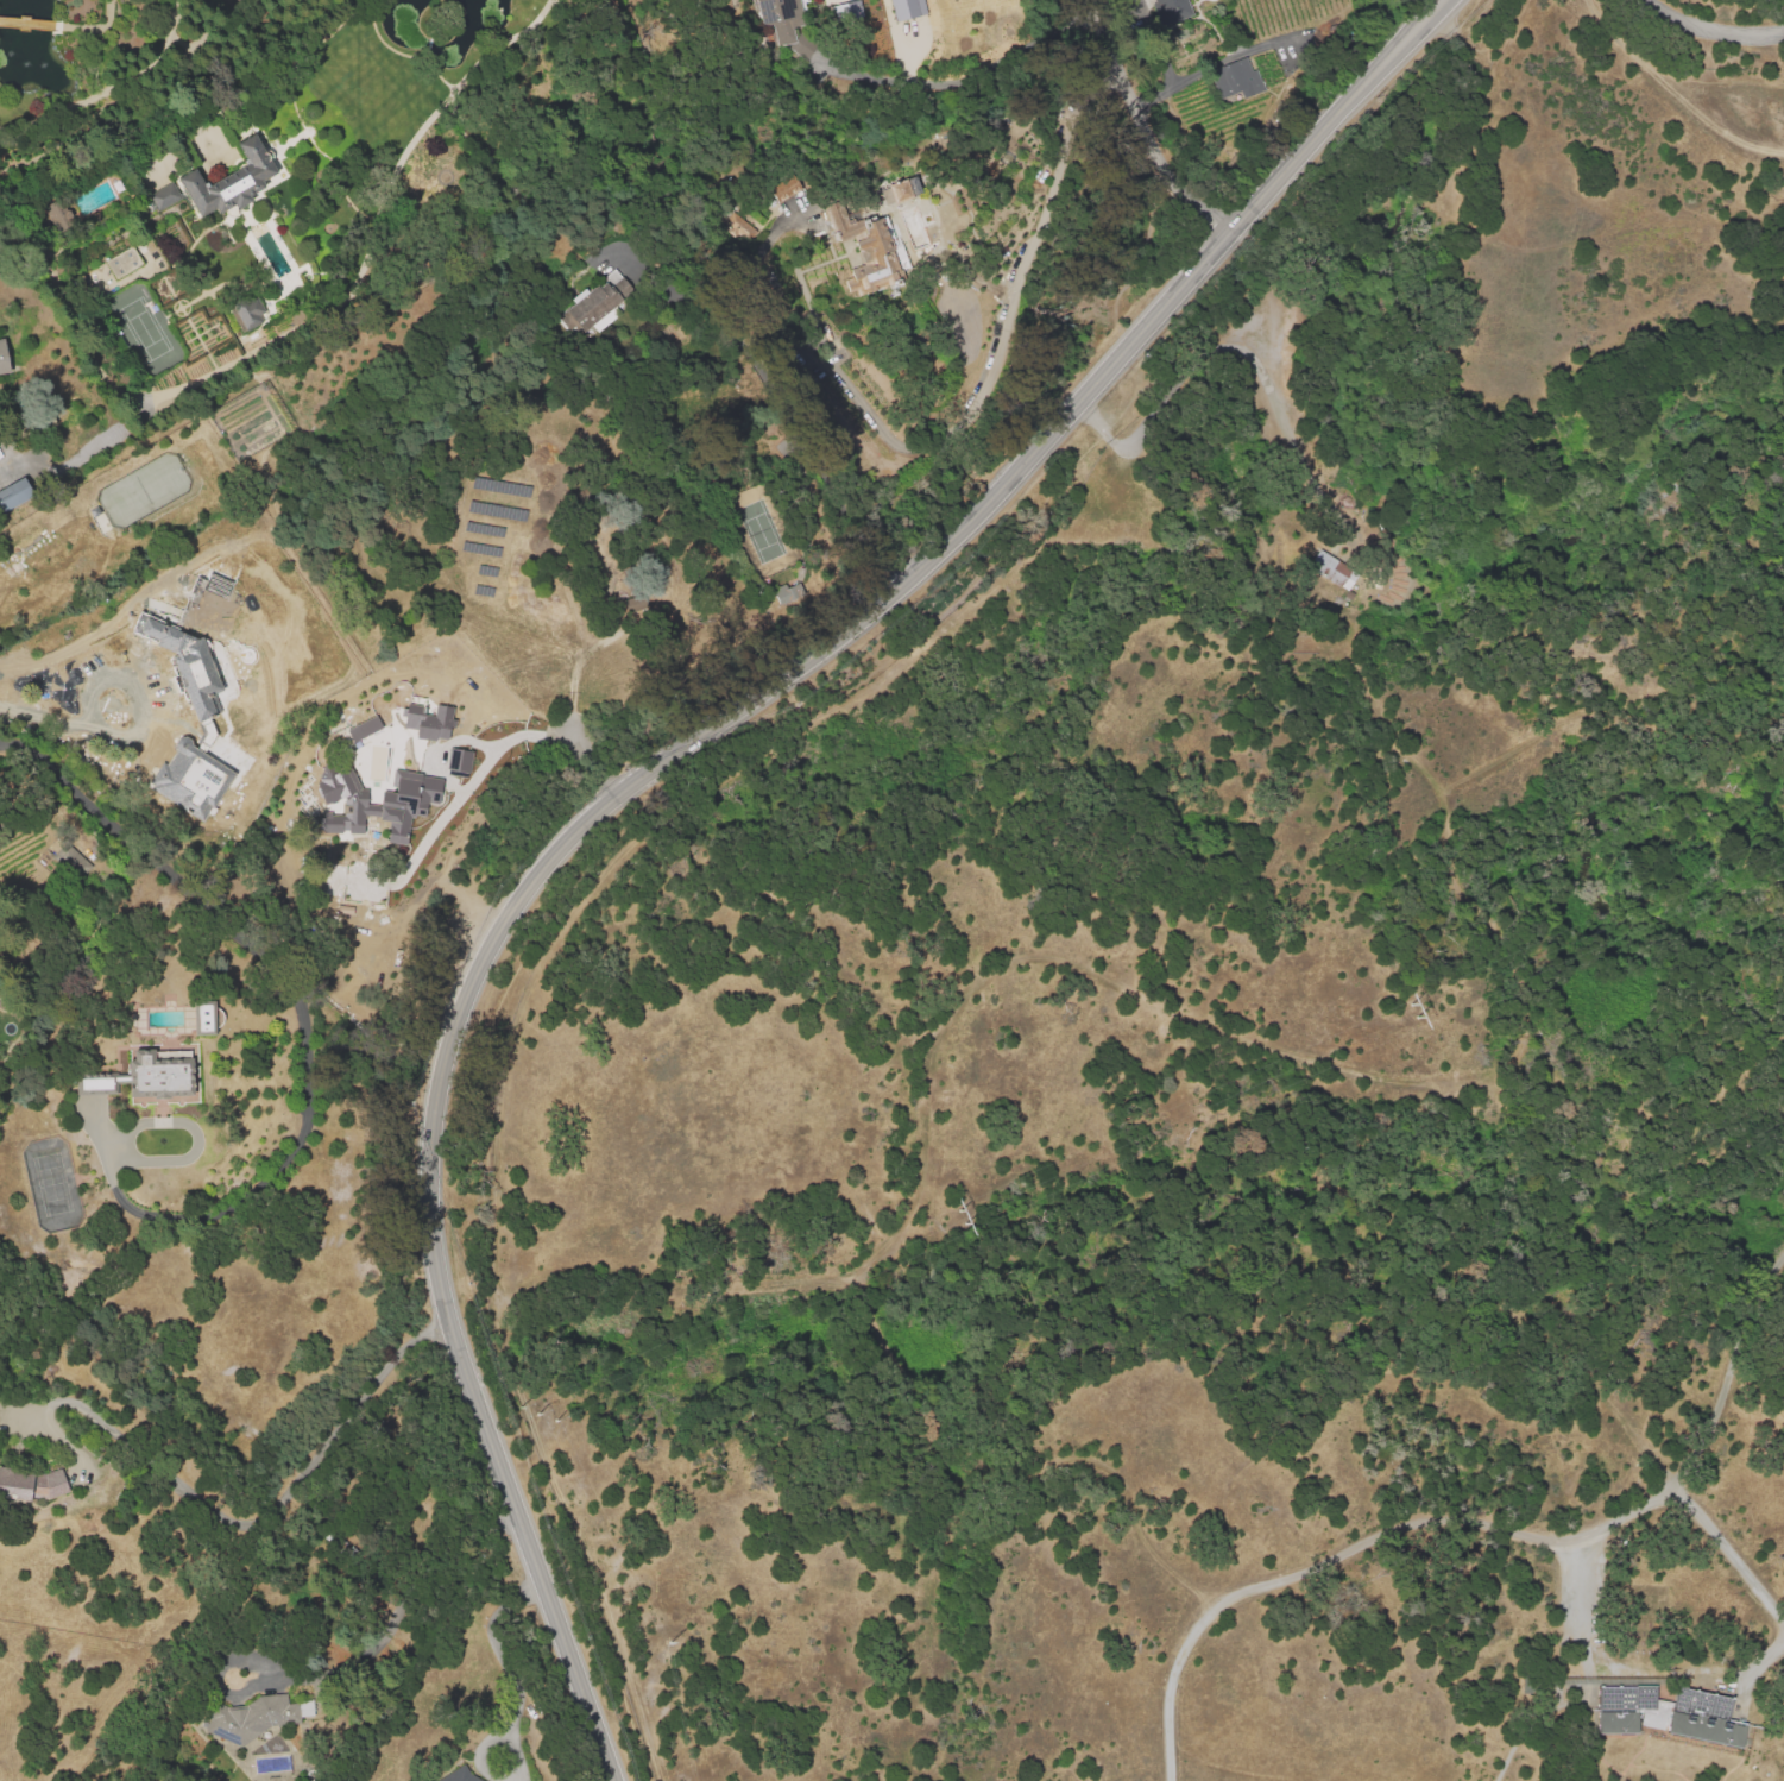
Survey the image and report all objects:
building: (907, 8)
building: (1172, 10)
building: (847, 11)
building: (780, 21)
road: (1711, 30)
road: (967, 64)
building: (1236, 81)
road: (1675, 95)
road: (1480, 101)
road: (106, 109)
road: (1143, 124)
building: (231, 180)
building: (782, 188)
building: (896, 193)
building: (164, 197)
building: (58, 214)
building: (737, 227)
road: (1568, 243)
building: (871, 246)
building: (124, 264)
road: (752, 291)
road: (830, 297)
building: (591, 309)
building: (247, 311)
road: (1001, 334)
road: (1241, 348)
building: (4, 360)
road: (778, 401)
building: (13, 493)
building: (1334, 573)
building: (179, 669)
road: (145, 693)
building: (427, 720)
building: (363, 728)
building: (458, 760)
road: (486, 761)
road: (591, 763)
road: (643, 773)
building: (191, 780)
building: (372, 803)
building: (70, 861)
road: (1505, 963)
building: (203, 1020)
building: (146, 1078)
building: (95, 1083)
road: (1728, 1378)
building: (31, 1487)
road: (1433, 1523)
road: (234, 1524)
building: (355, 1555)
building: (334, 1581)
road: (1578, 1606)
parking lot: (1578, 1610)
building: (1669, 1714)
building: (252, 1720)
building: (460, 1776)

